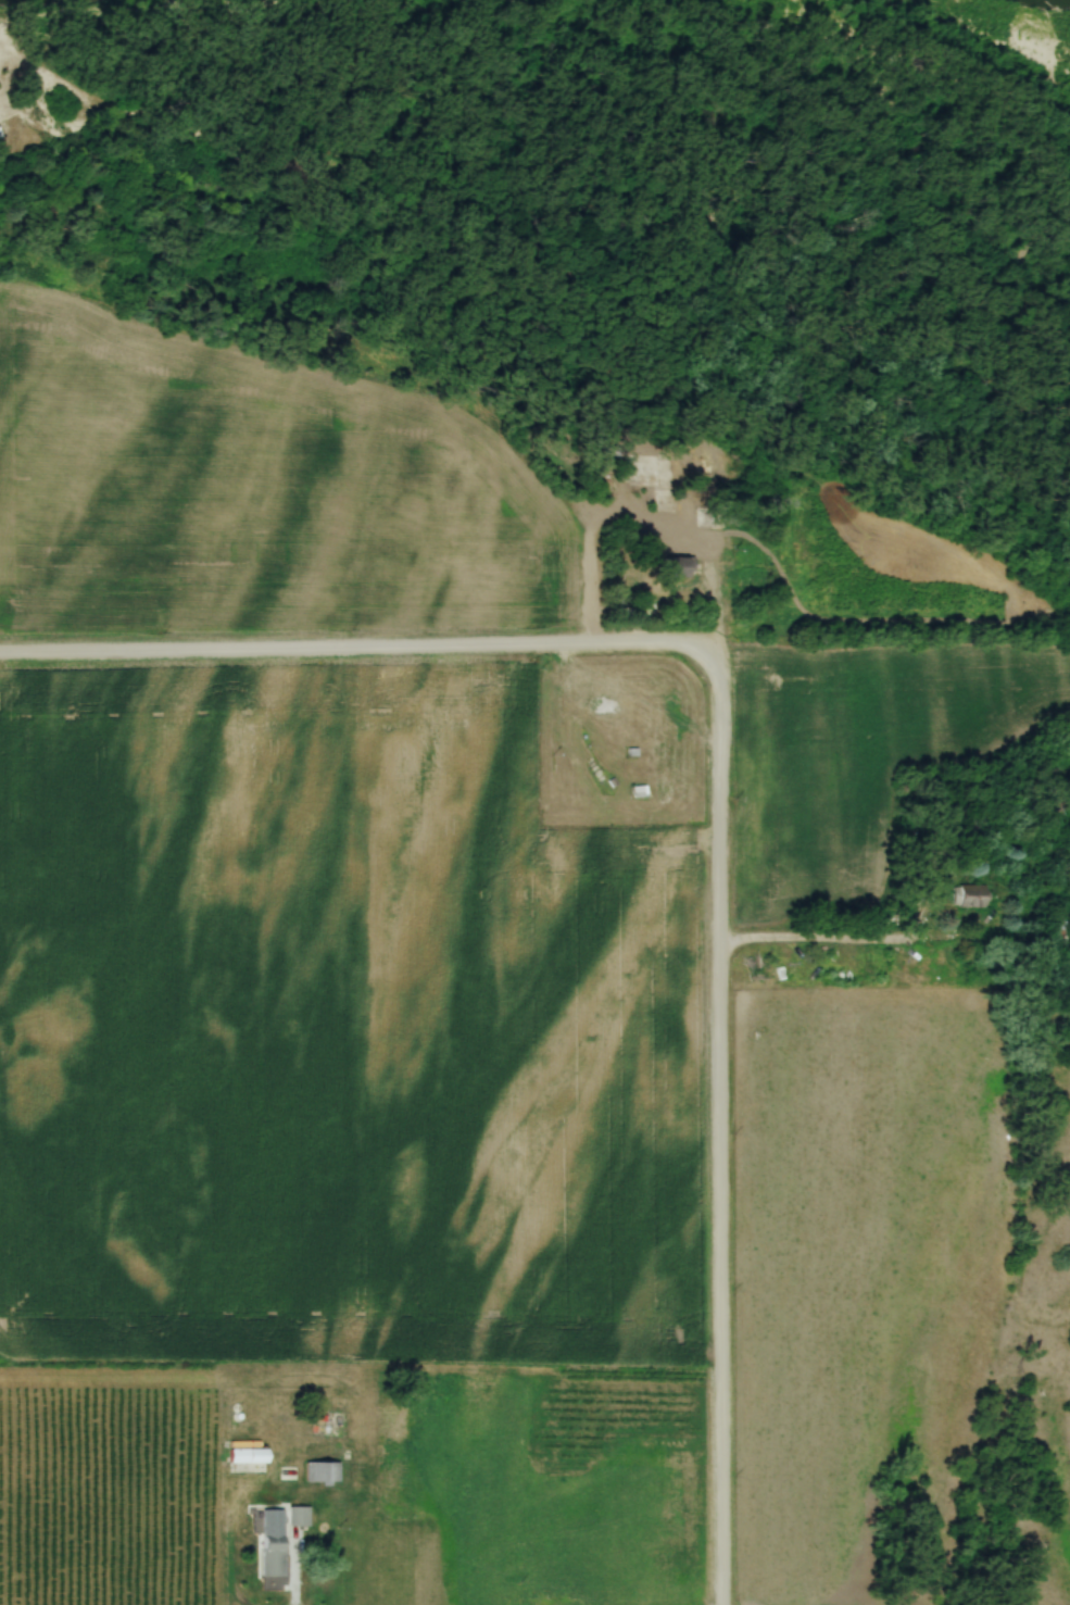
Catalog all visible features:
building: (649, 469)
building: (713, 521)
building: (677, 568)
road: (707, 576)
road: (332, 648)
building: (640, 793)
building: (968, 898)
building: (1059, 931)
road: (840, 942)
road: (718, 1108)
building: (248, 1455)
building: (324, 1472)
building: (299, 1516)
building: (272, 1550)

